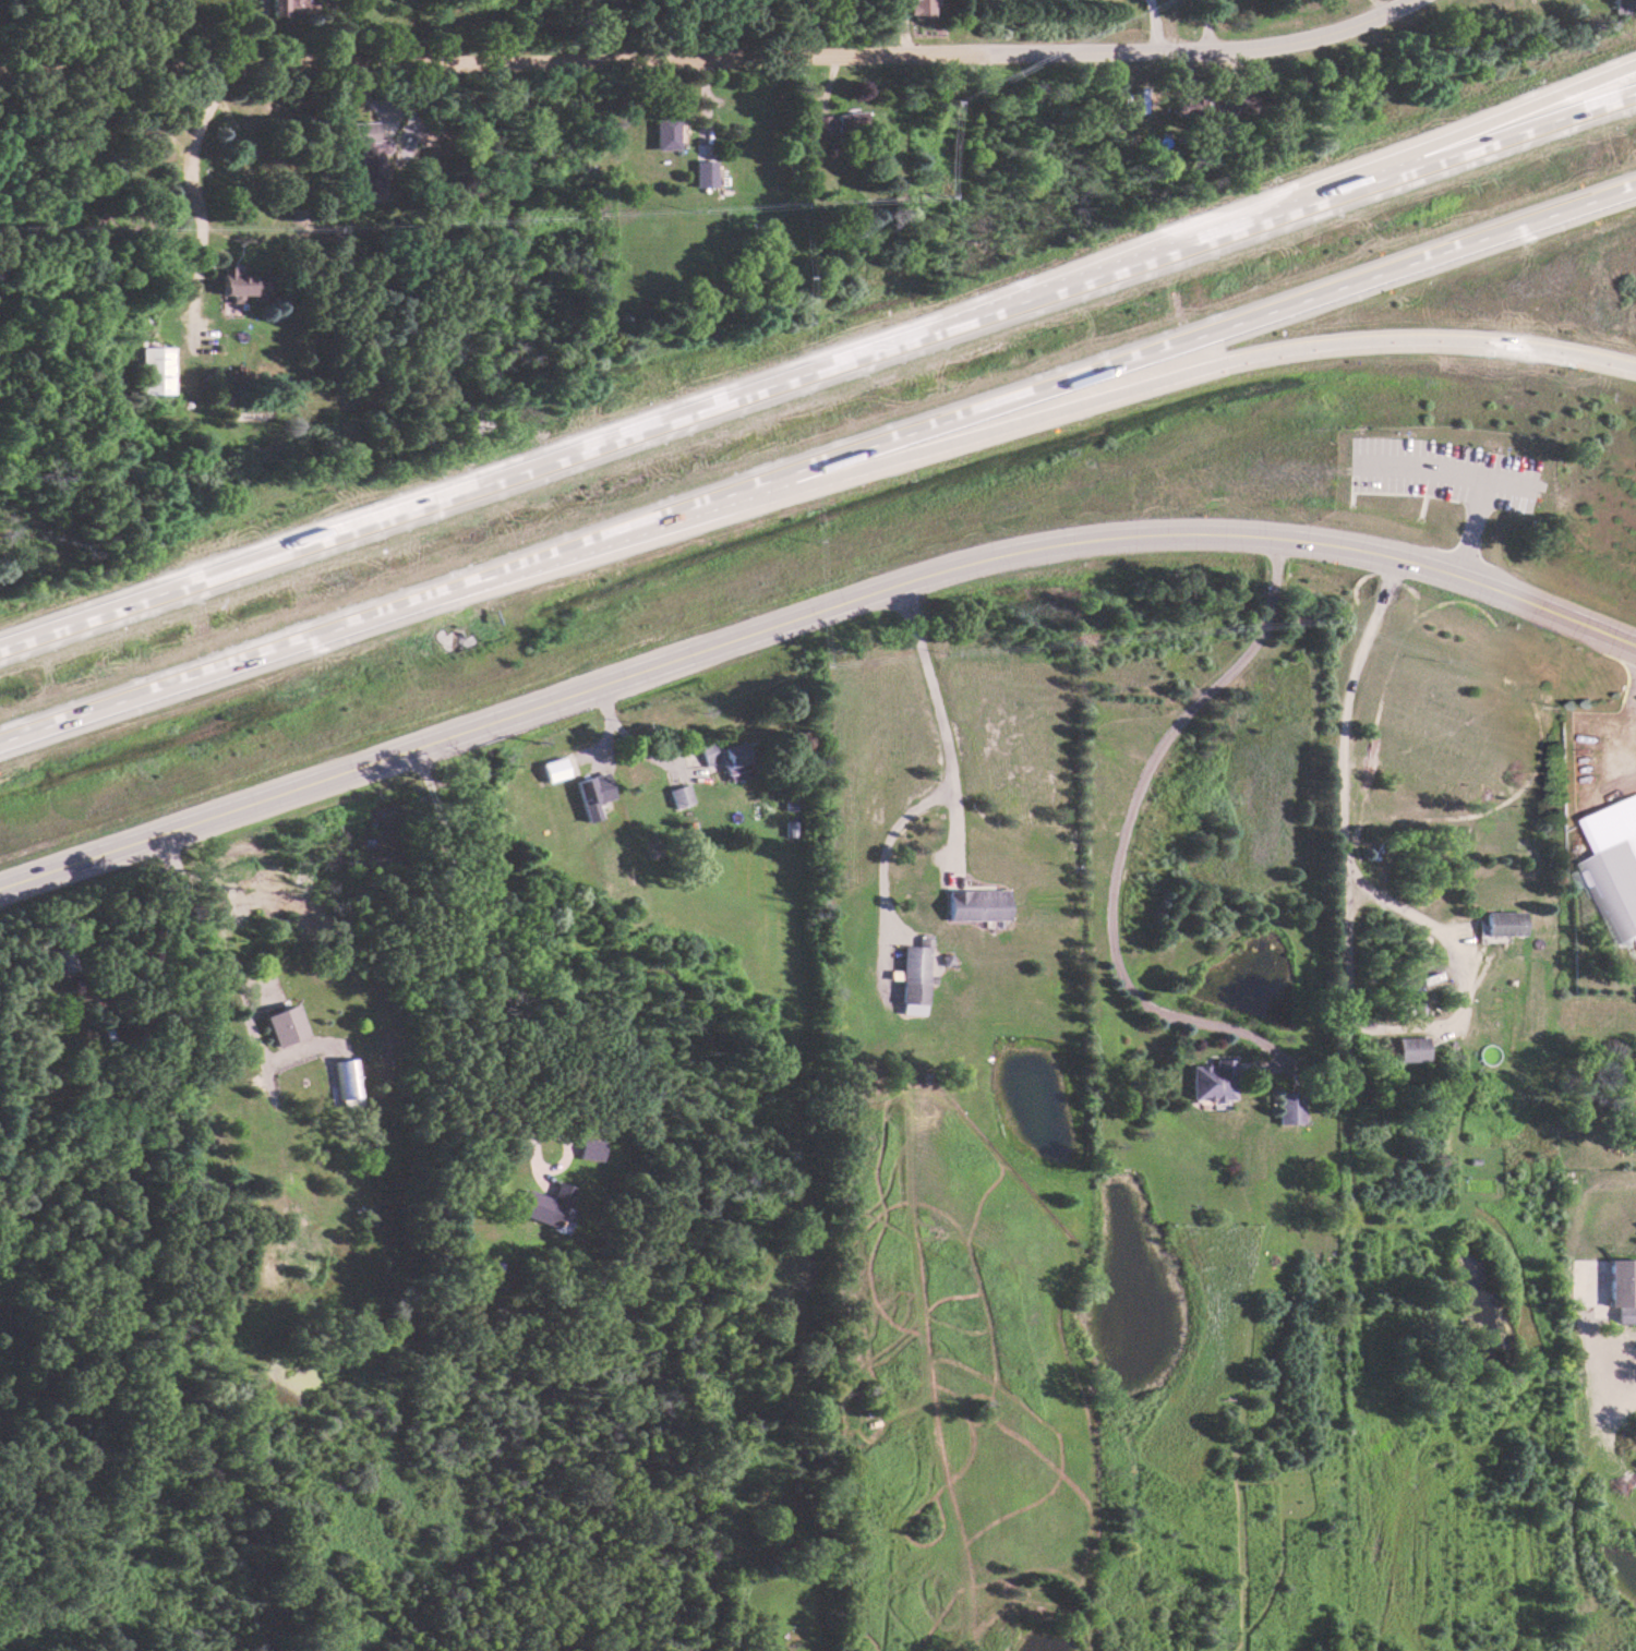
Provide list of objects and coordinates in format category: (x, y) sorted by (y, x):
building: (1622, 3)
building: (290, 8)
building: (919, 9)
road: (1148, 24)
road: (1195, 47)
road: (490, 65)
building: (1184, 106)
building: (849, 123)
building: (820, 124)
building: (664, 132)
building: (366, 156)
building: (703, 173)
road: (1330, 179)
road: (185, 197)
building: (241, 285)
road: (853, 359)
building: (156, 370)
road: (1050, 411)
road: (818, 462)
road: (1435, 468)
parking lot: (1441, 473)
road: (1469, 525)
road: (808, 611)
road: (34, 634)
road: (1631, 713)
road: (933, 716)
road: (627, 742)
building: (725, 758)
road: (1339, 764)
building: (591, 794)
building: (678, 795)
road: (1122, 818)
building: (1617, 864)
building: (973, 904)
building: (1503, 923)
road: (204, 936)
building: (911, 977)
road: (454, 1009)
building: (282, 1025)
building: (1410, 1049)
building: (341, 1077)
building: (1207, 1081)
building: (1288, 1111)
building: (588, 1149)
building: (545, 1206)
building: (1621, 1289)

